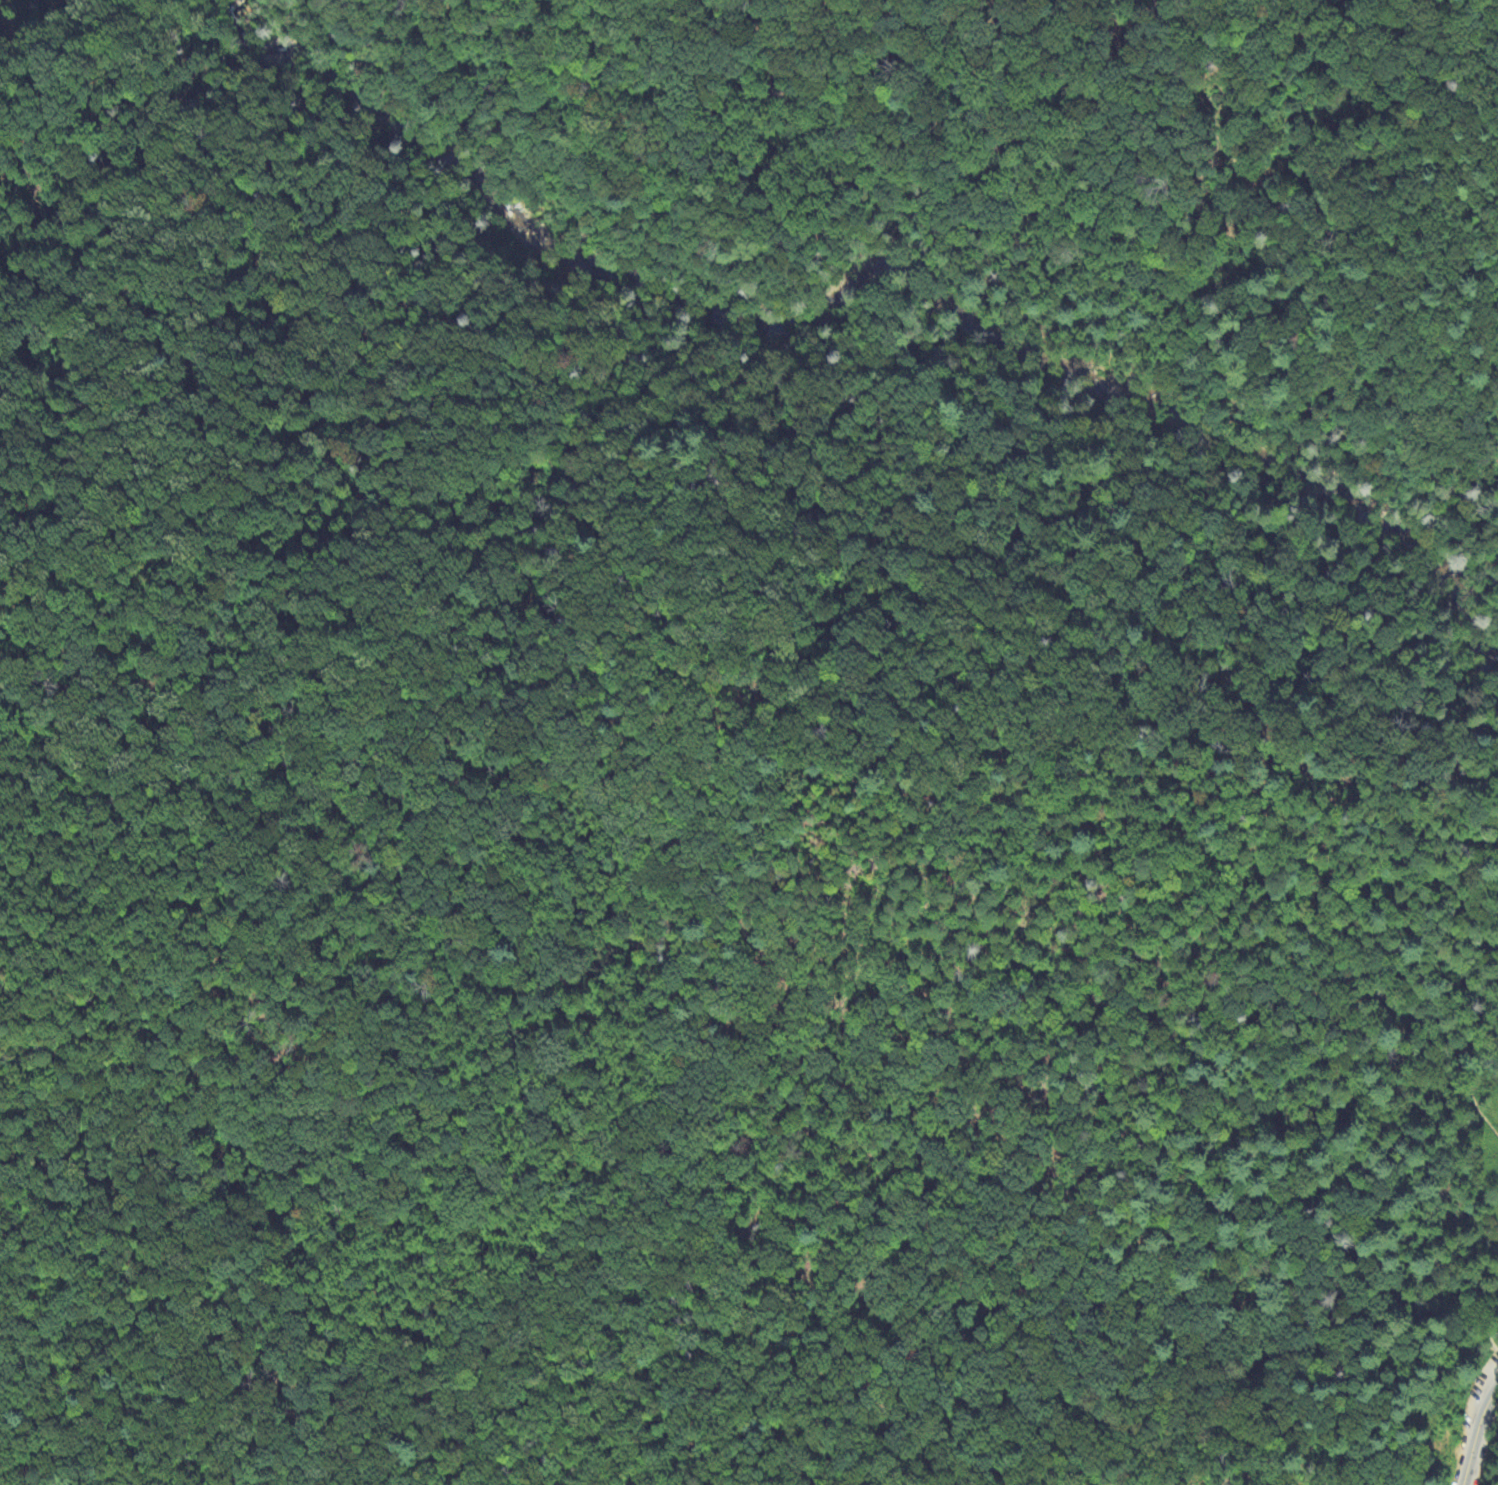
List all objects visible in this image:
road: (1044, 144)
road: (1474, 1432)

